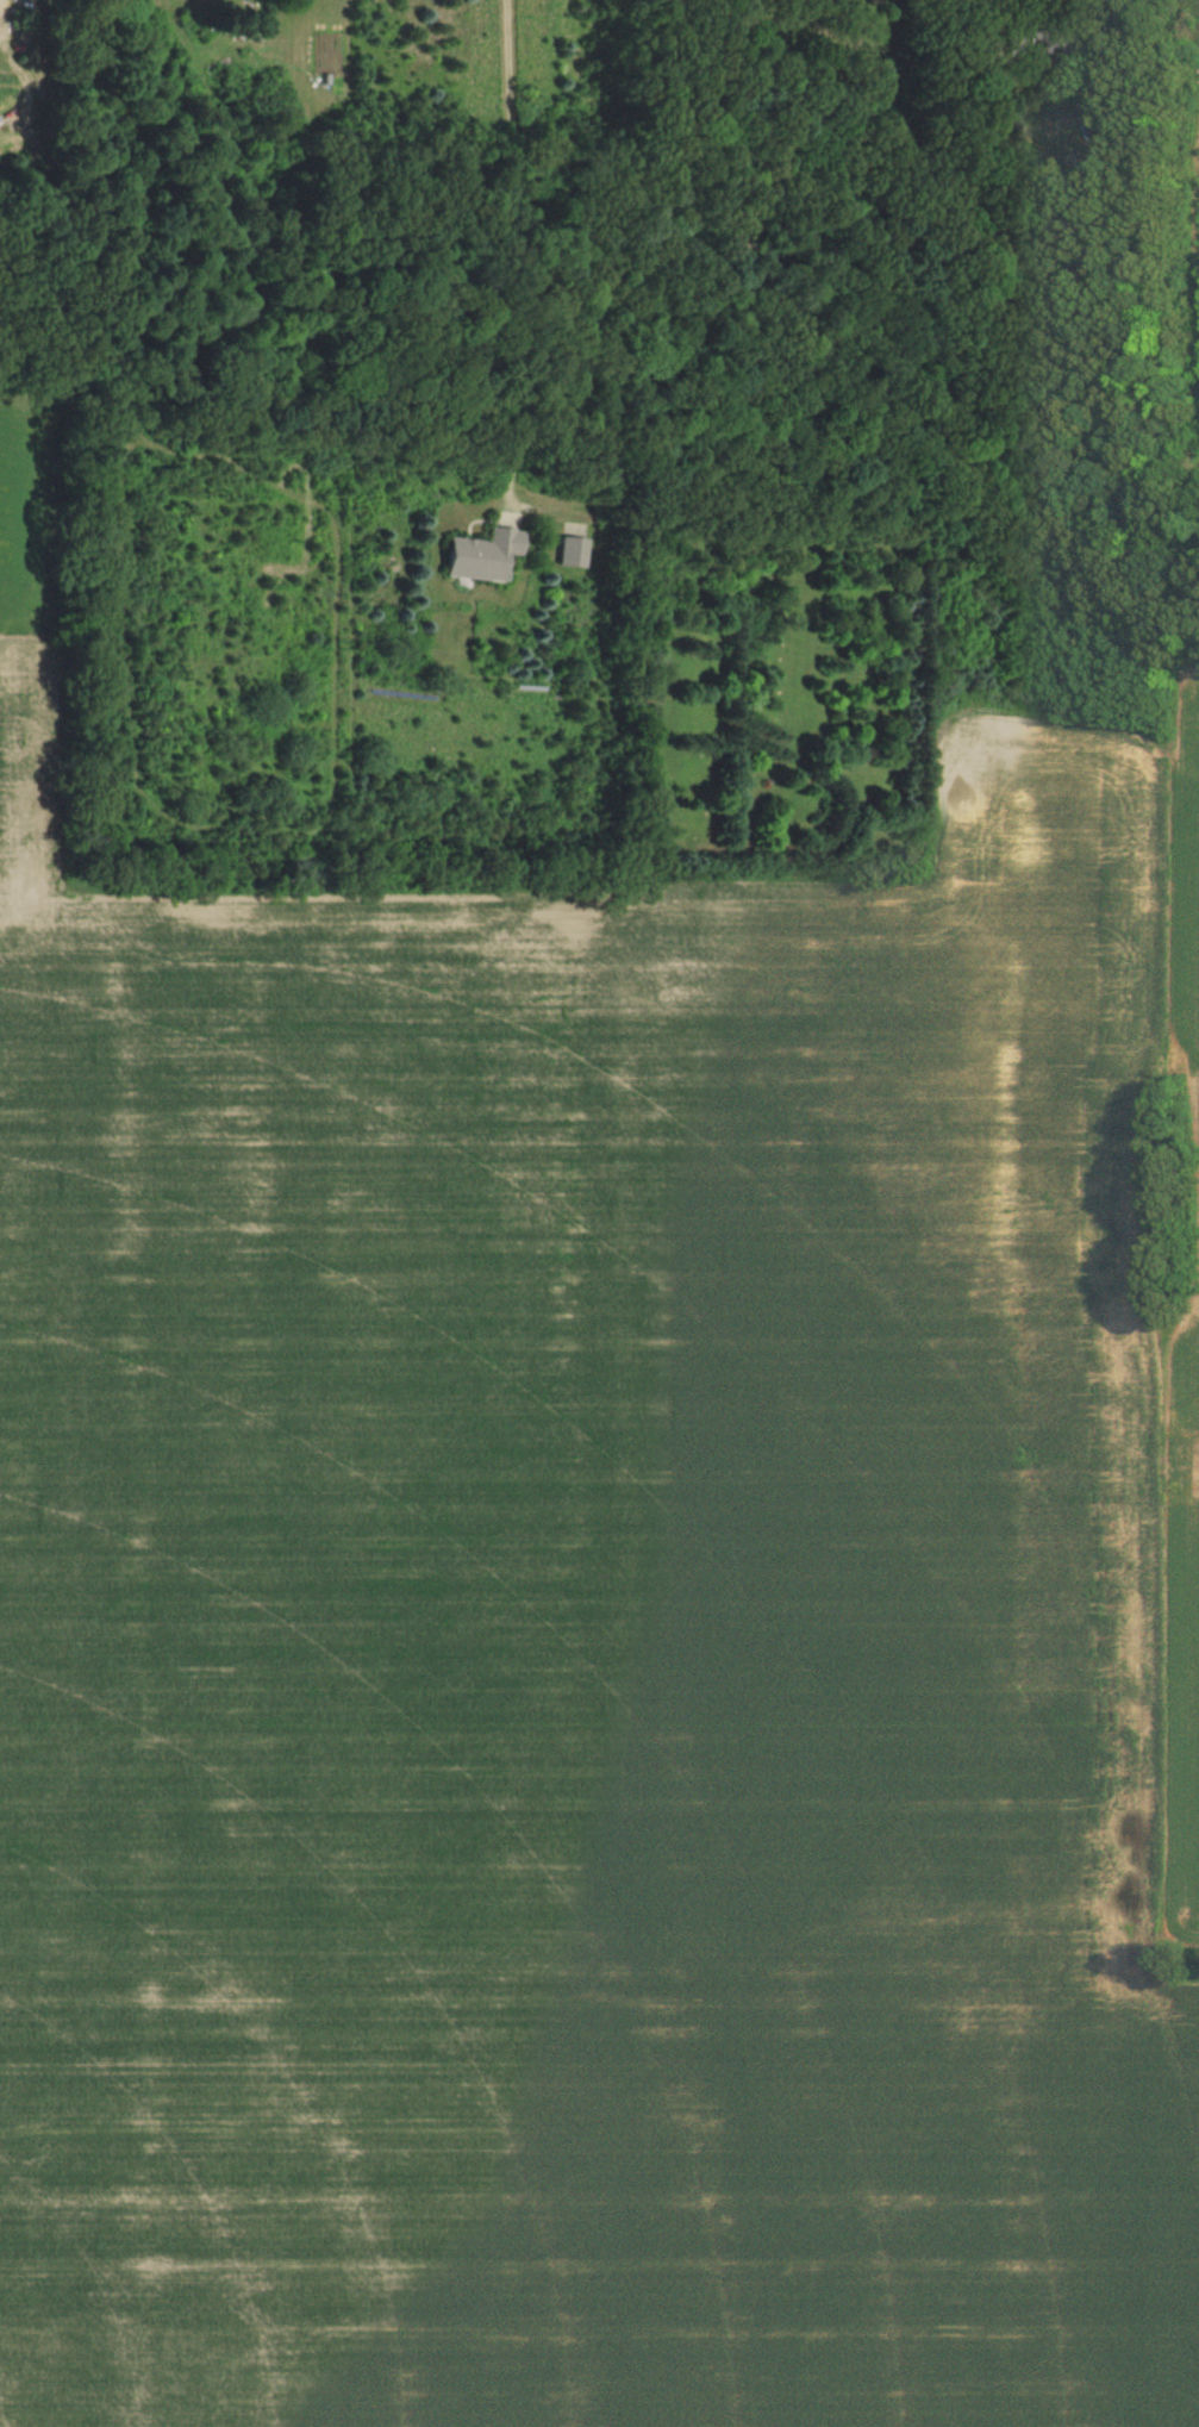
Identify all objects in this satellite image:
road: (981, 21)
road: (547, 250)
building: (573, 549)
building: (483, 551)
crop: (1184, 1098)
airport runway: (1191, 1462)
crop: (594, 1635)
crop: (1187, 1724)

